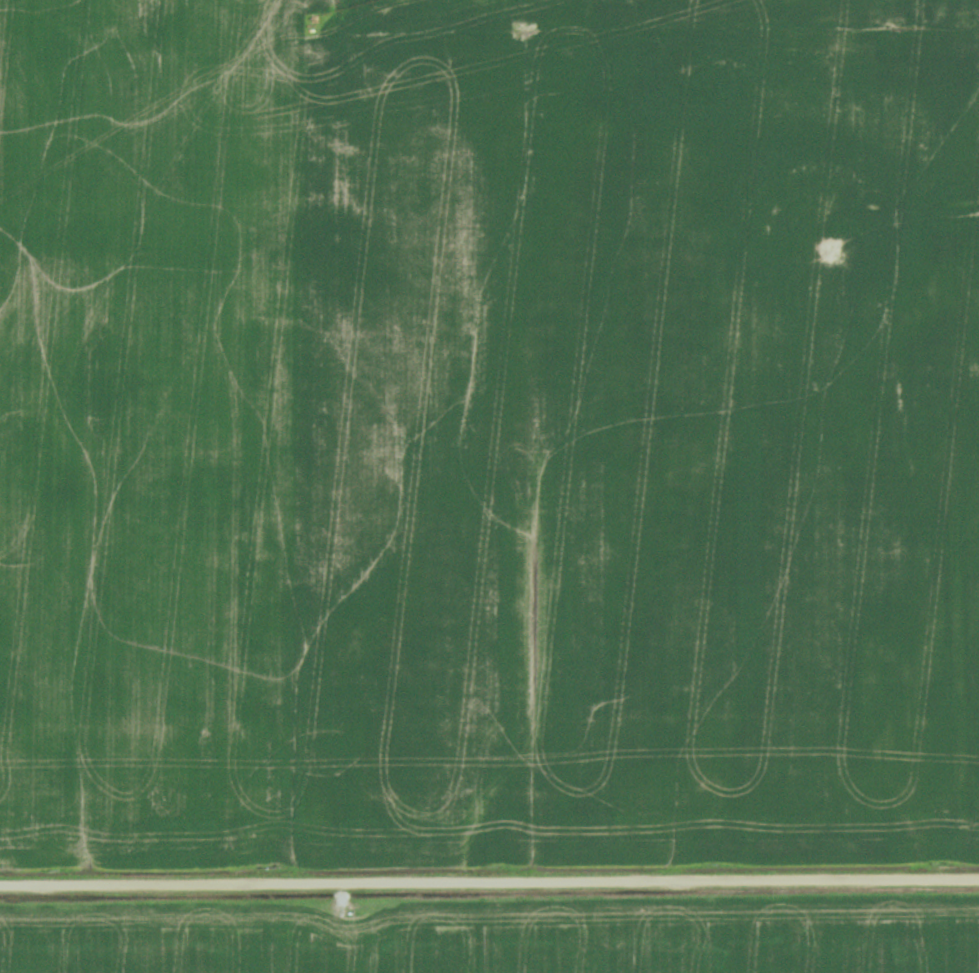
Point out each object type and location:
road: (912, 202)
road: (489, 884)

